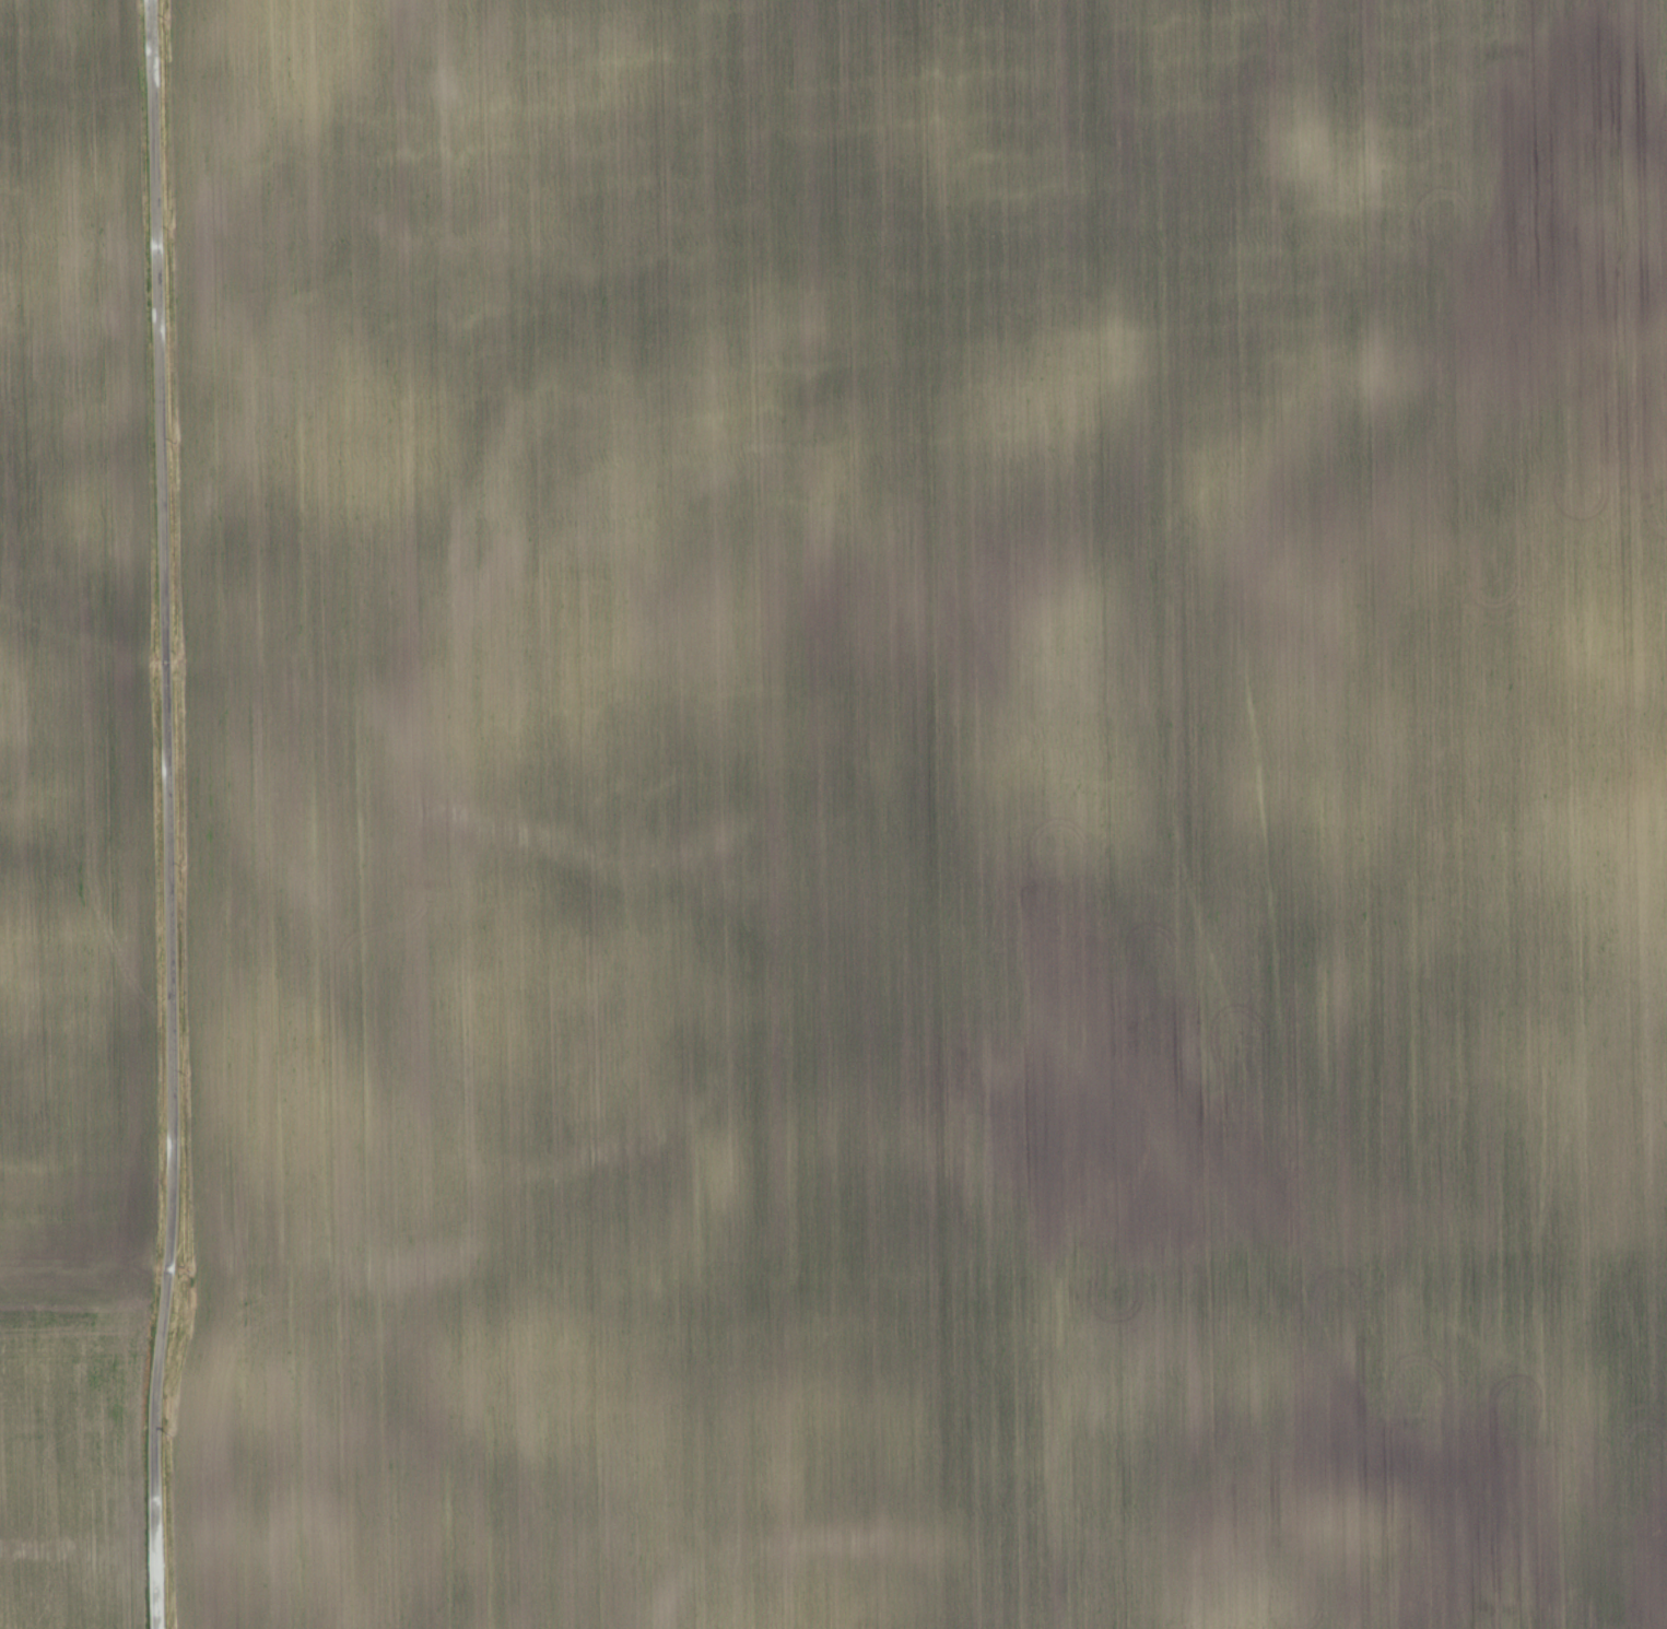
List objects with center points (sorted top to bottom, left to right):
crop: (924, 812)
crop: (74, 814)
road: (169, 814)

